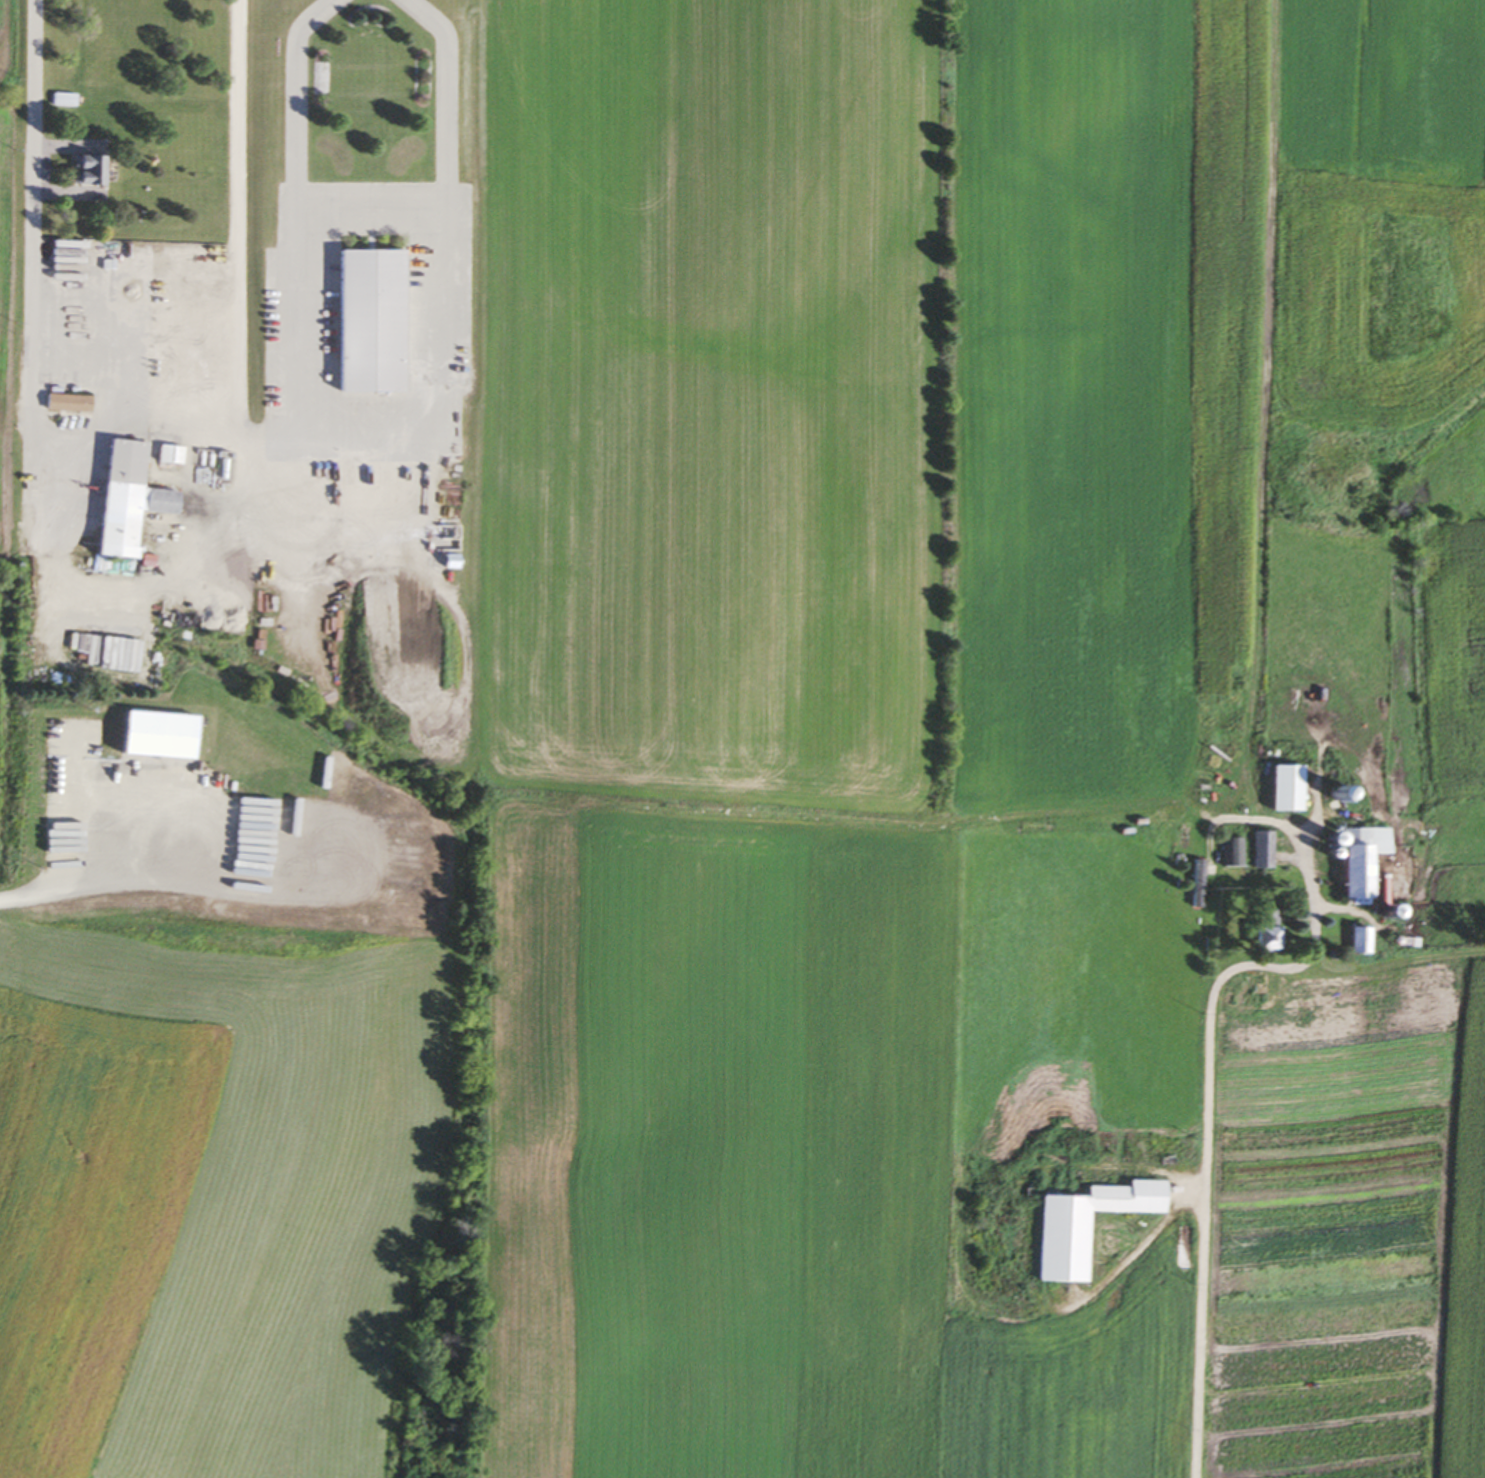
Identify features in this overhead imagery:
building: (70, 100)
building: (96, 171)
road: (40, 285)
building: (363, 322)
road: (133, 422)
road: (269, 436)
building: (176, 456)
building: (136, 500)
building: (446, 562)
building: (124, 655)
building: (171, 738)
building: (1277, 788)
road: (1214, 809)
building: (1256, 849)
building: (1229, 852)
building: (1192, 887)
road: (84, 889)
building: (1256, 929)
building: (1347, 940)
building: (1078, 1225)

